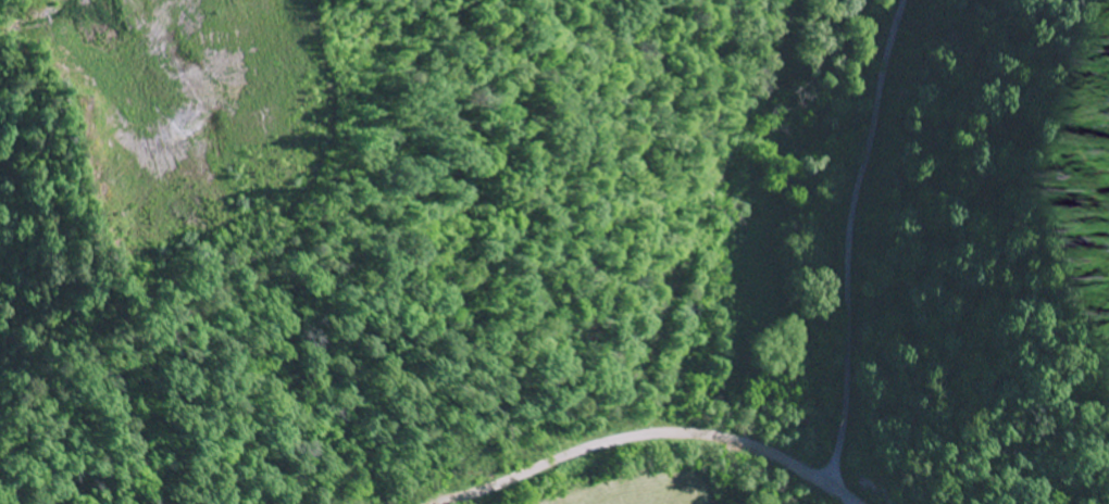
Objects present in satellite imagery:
road: (849, 241)
road: (589, 450)
road: (797, 467)
road: (844, 495)

